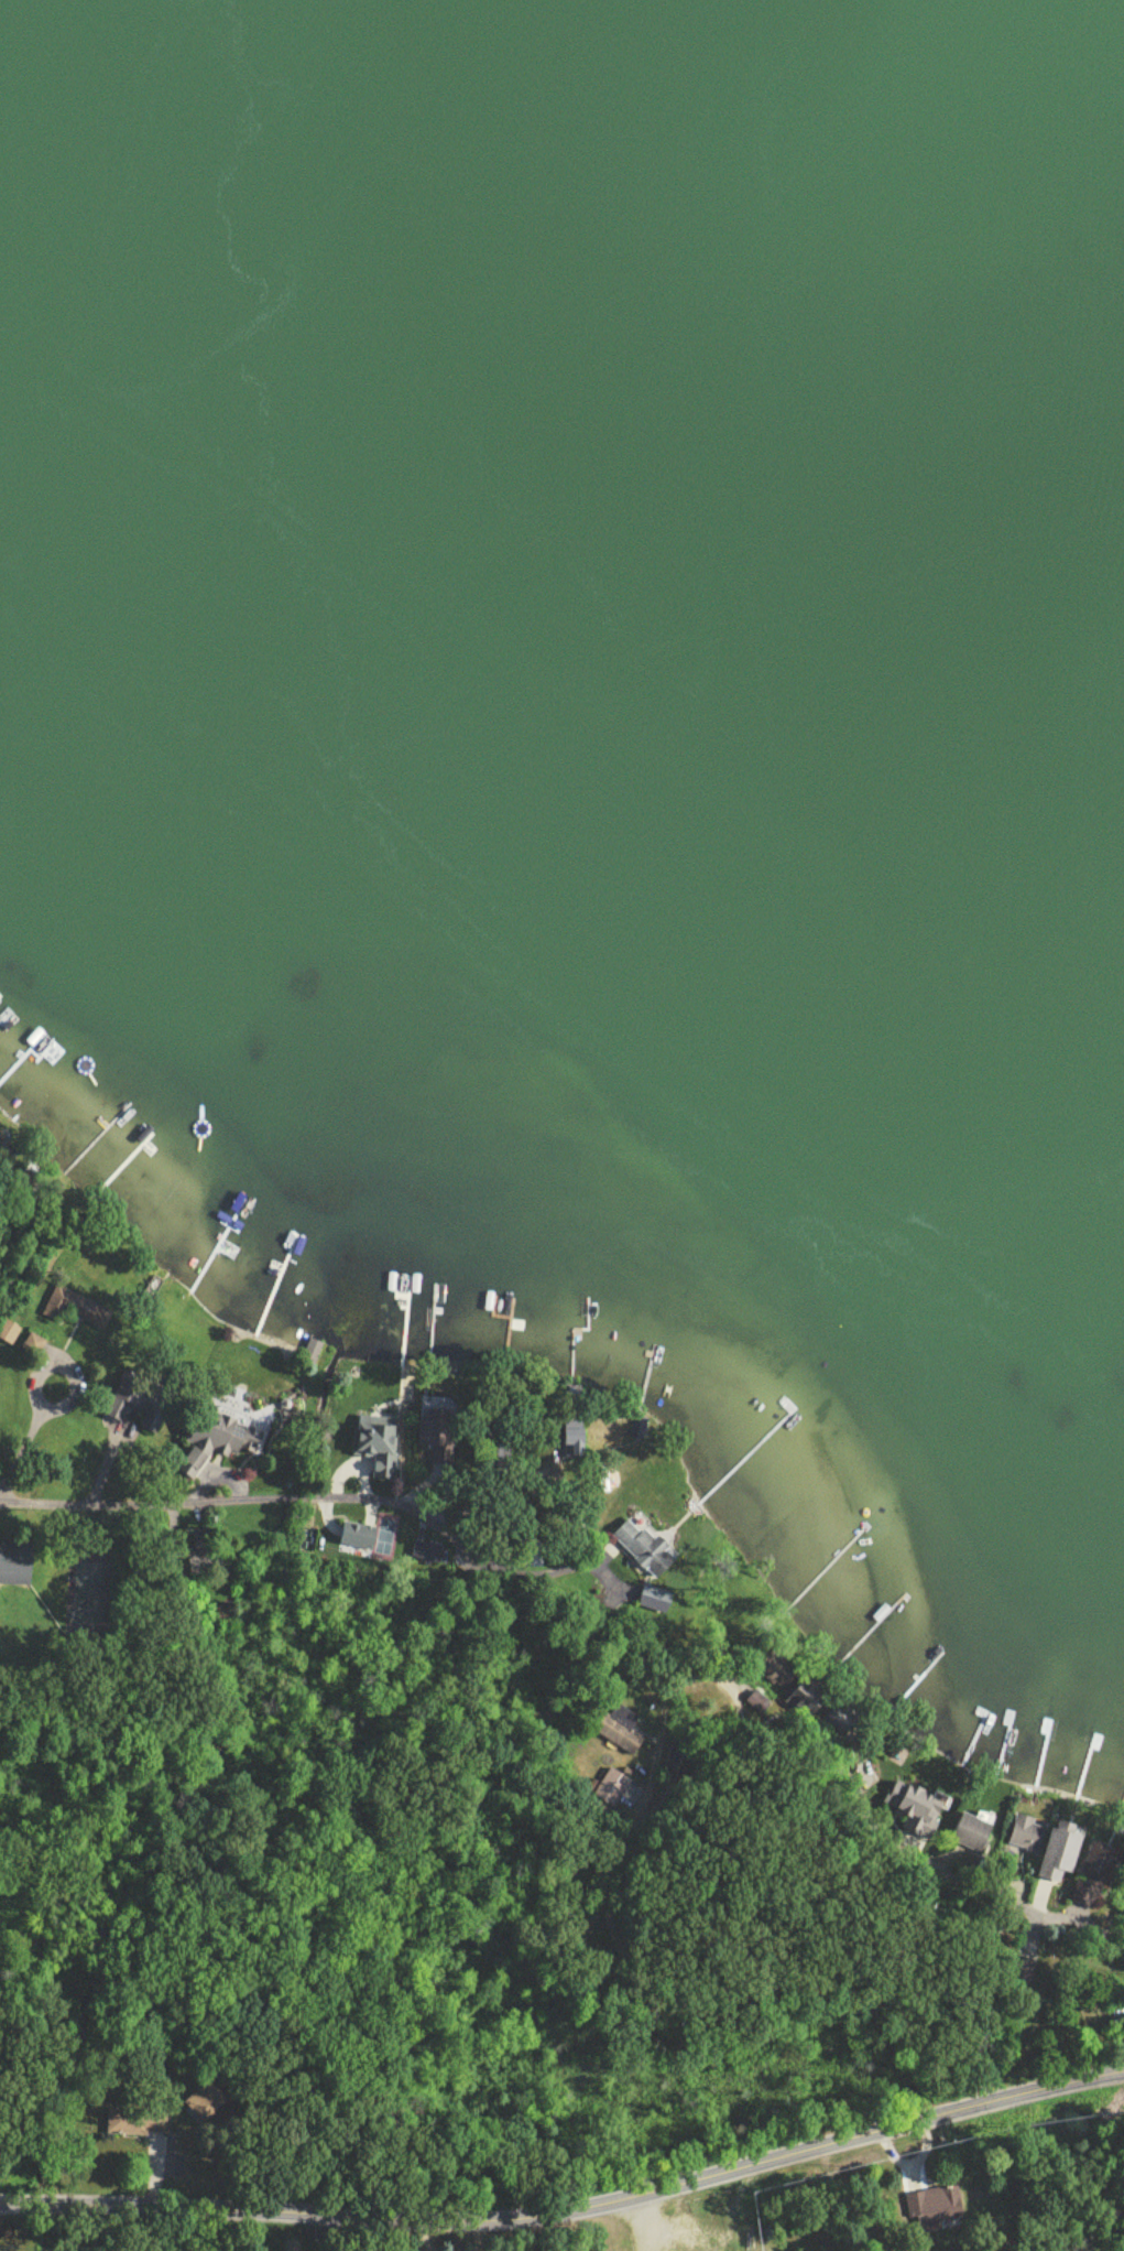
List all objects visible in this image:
building: (9, 1334)
building: (242, 1438)
building: (380, 1446)
road: (301, 1493)
building: (642, 1548)
building: (17, 1572)
building: (655, 1603)
building: (759, 1706)
building: (612, 1788)
building: (972, 1837)
building: (1027, 1837)
building: (1061, 1857)
road: (974, 1865)
road: (692, 1982)
building: (127, 2123)
road: (570, 2206)
building: (932, 2208)
road: (185, 2229)

